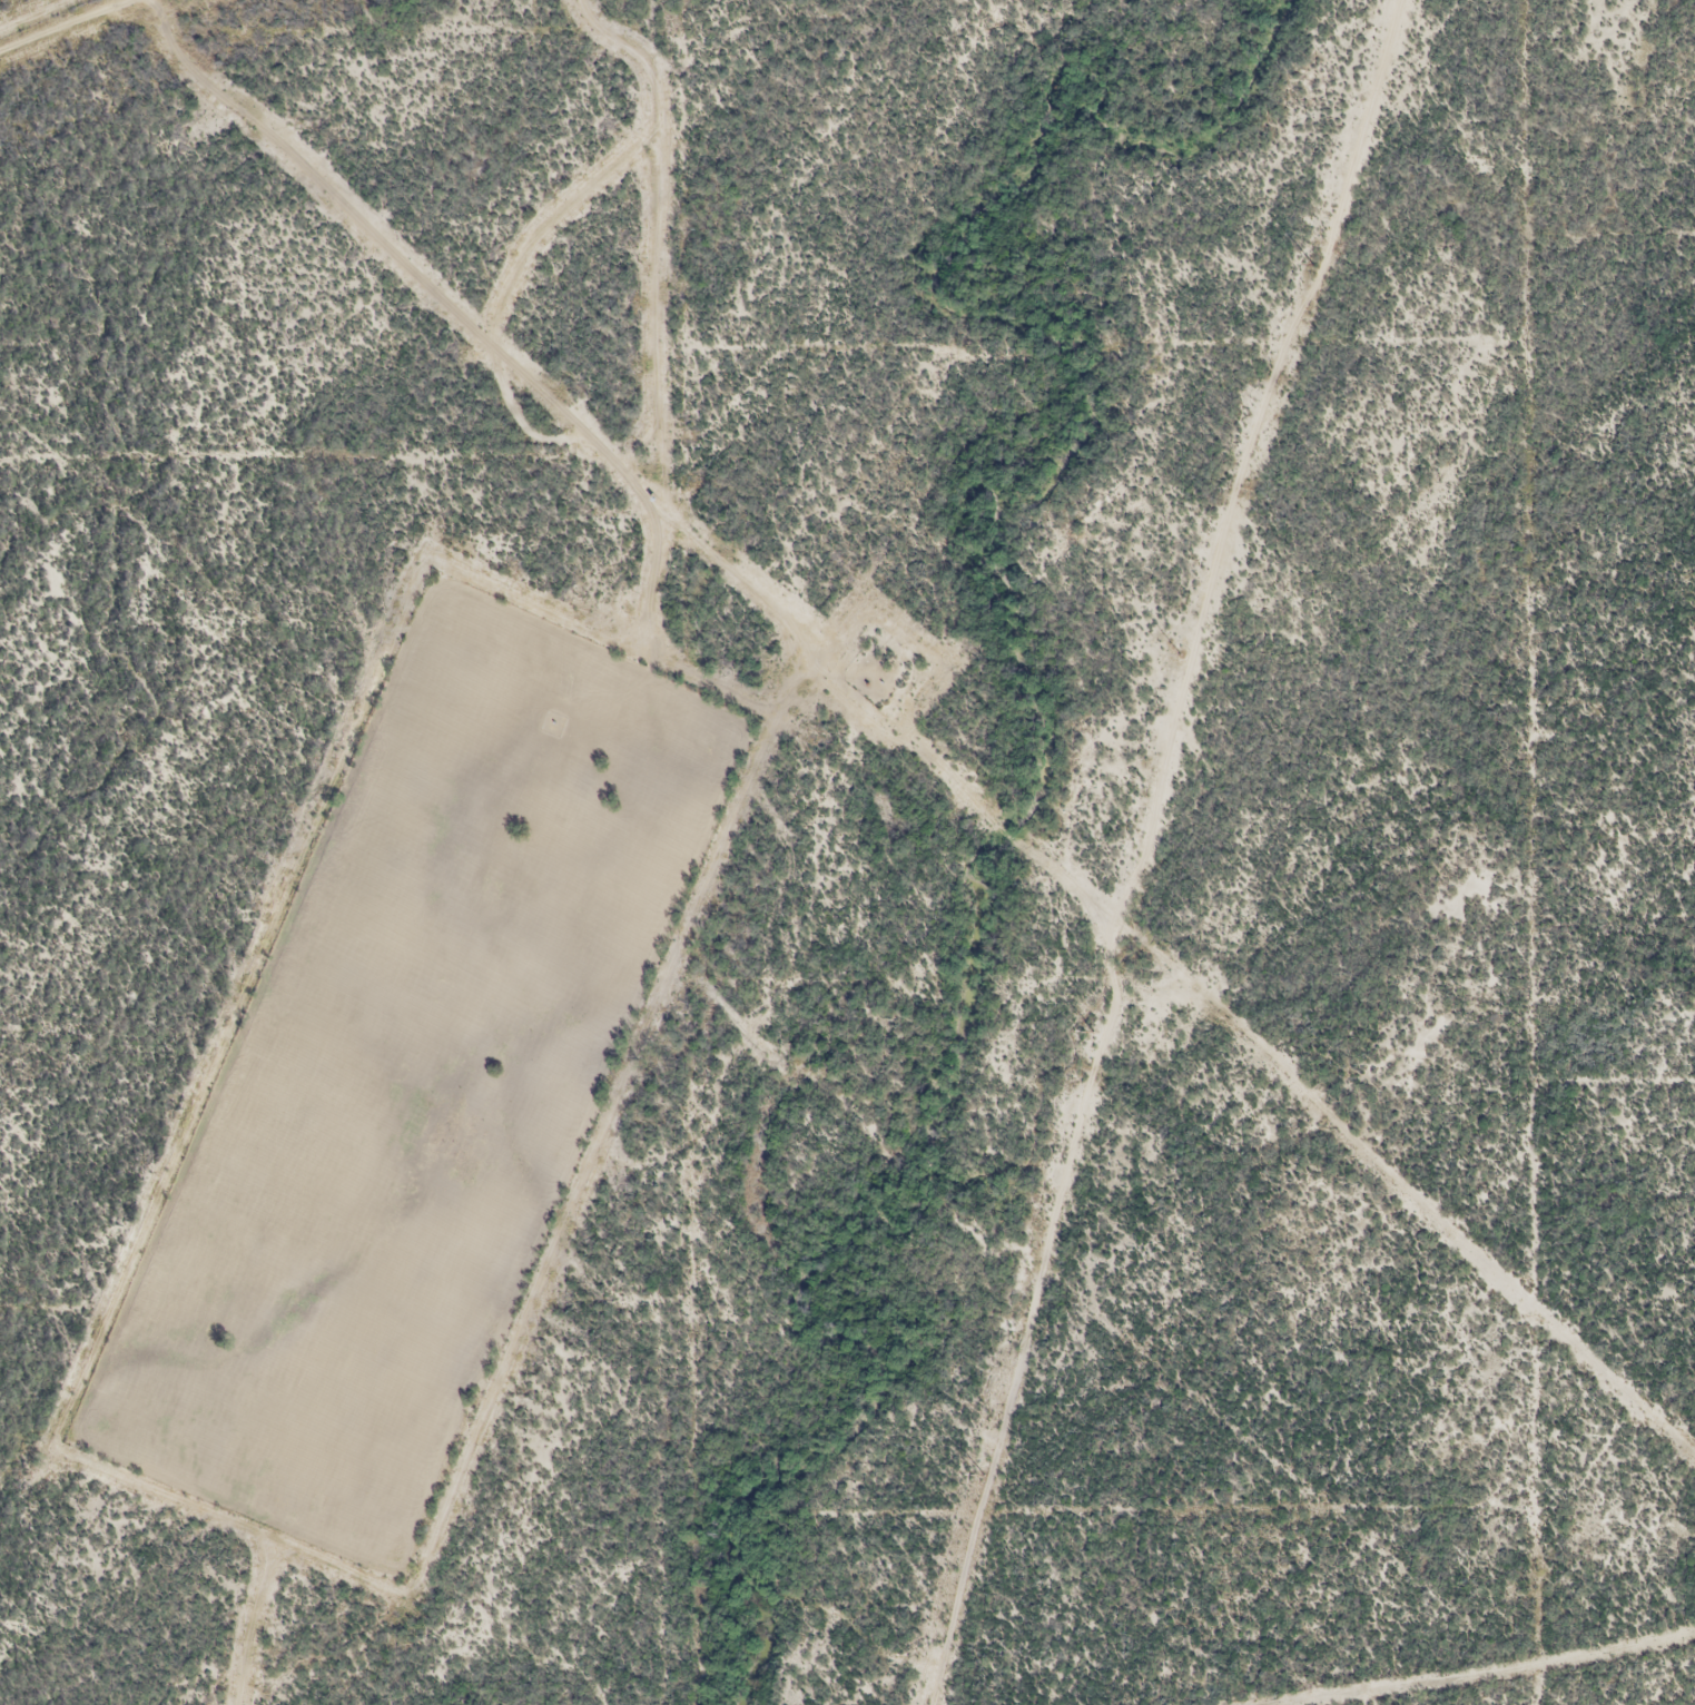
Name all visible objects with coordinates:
power tower: (1311, 265)
power tower: (1179, 654)
power tower: (1092, 1032)
power tower: (982, 1477)

